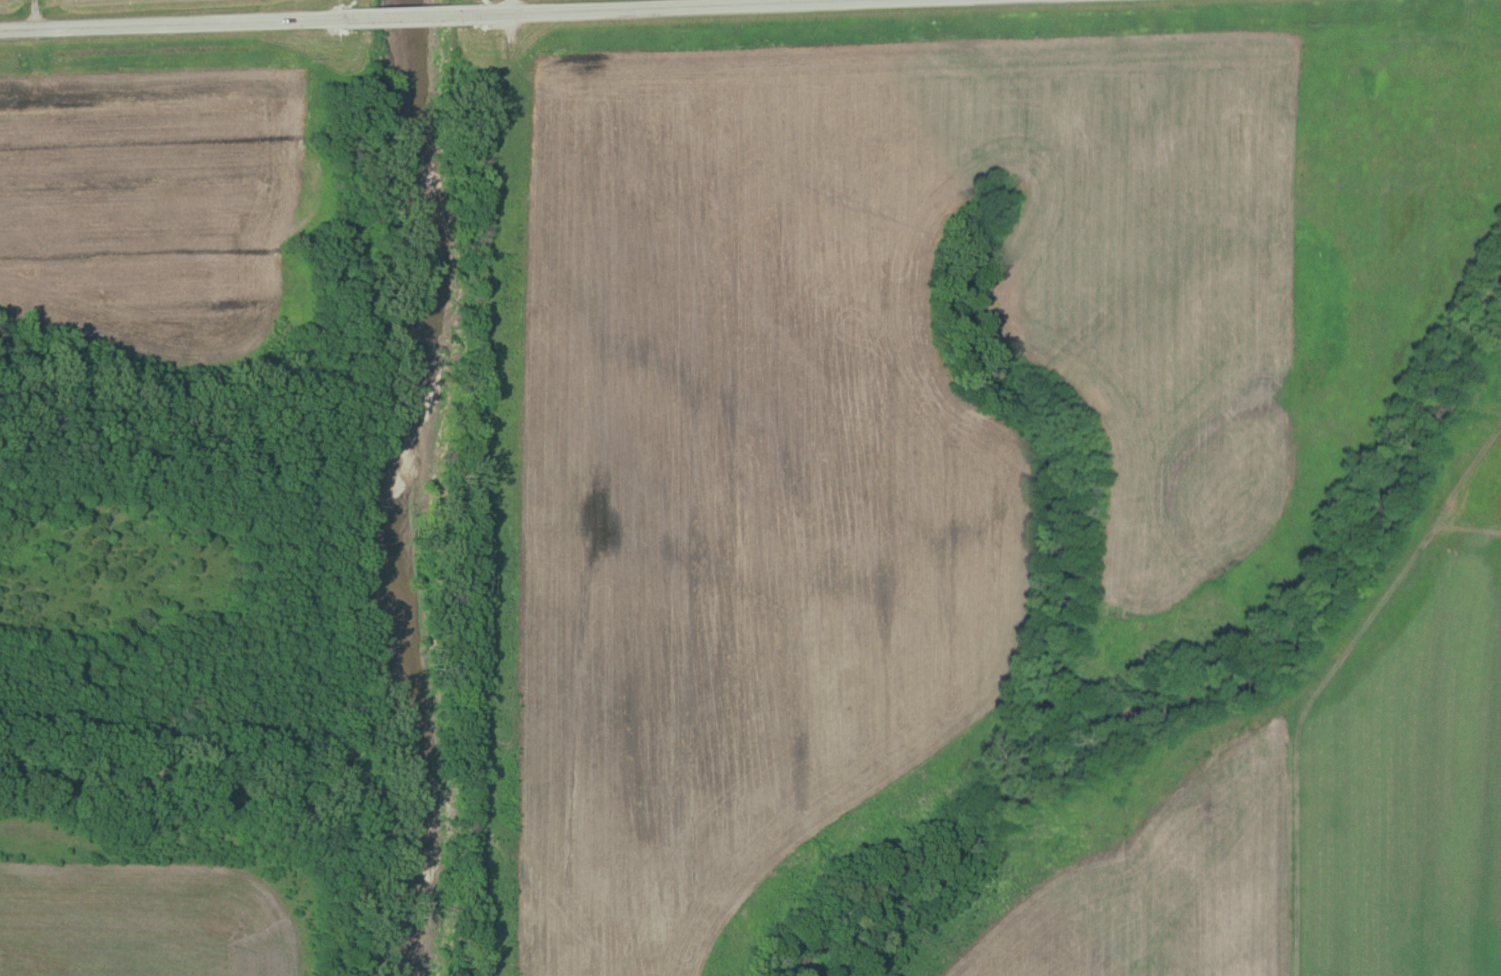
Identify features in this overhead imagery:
road: (668, 7)
road: (405, 17)
road: (170, 24)

